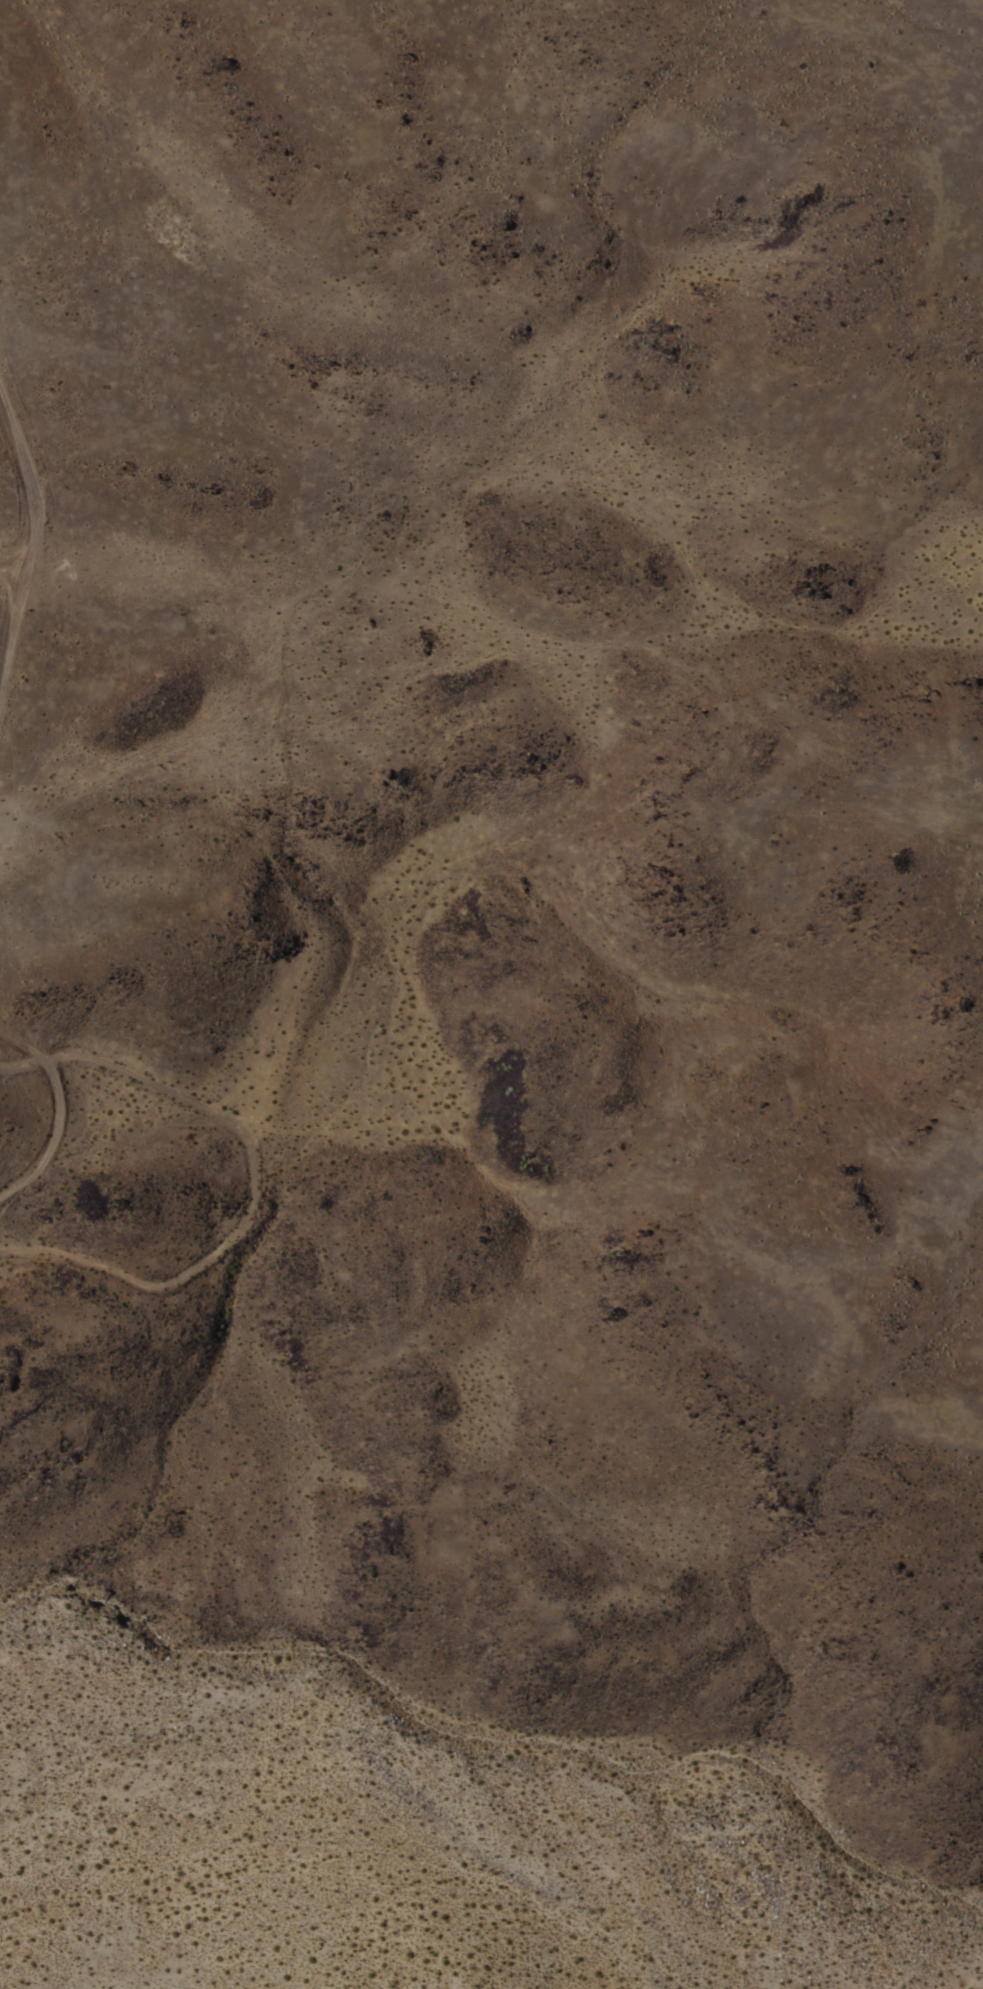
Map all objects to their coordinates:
road: (30, 538)
road: (21, 1060)
road: (50, 1102)

